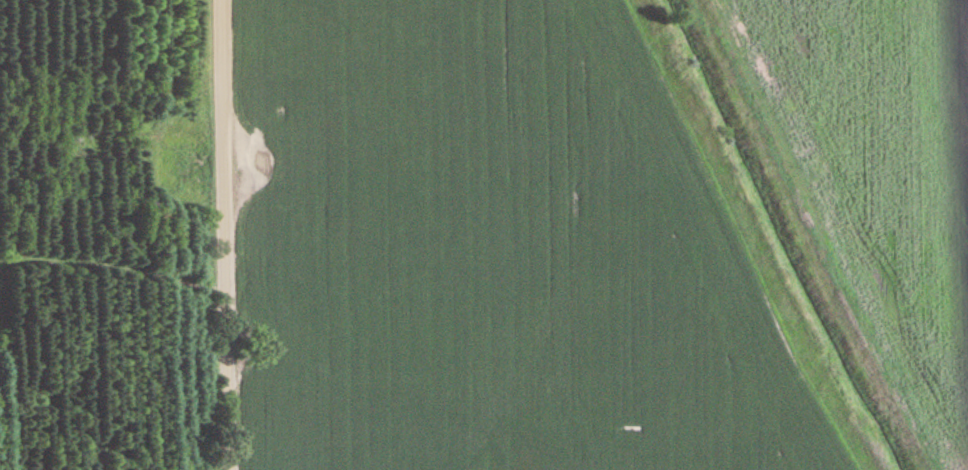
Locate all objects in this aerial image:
road: (225, 235)

